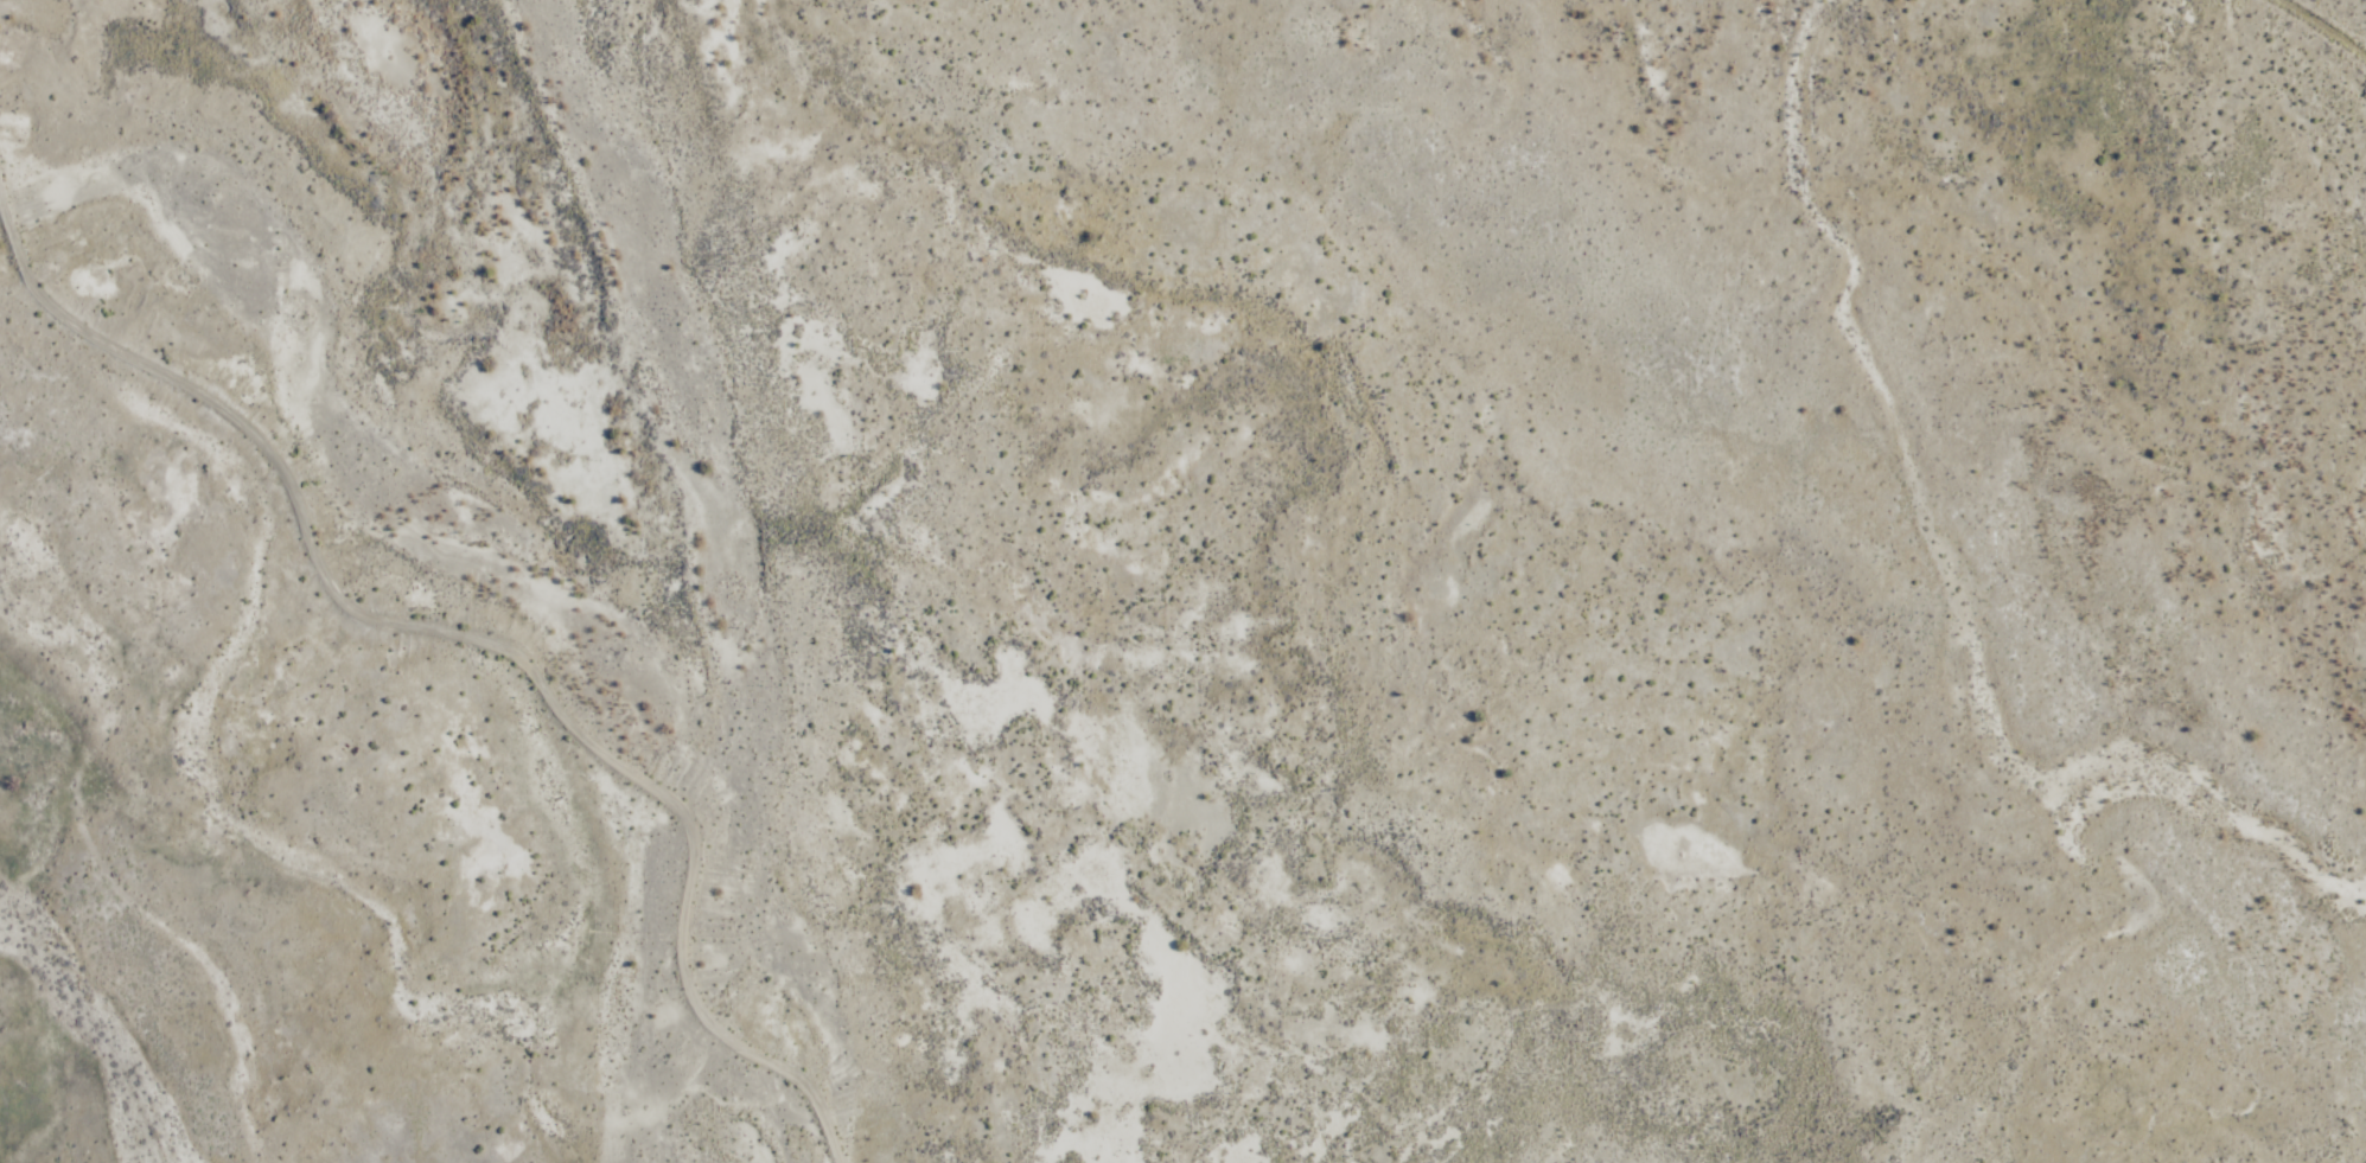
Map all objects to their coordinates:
road: (483, 653)

